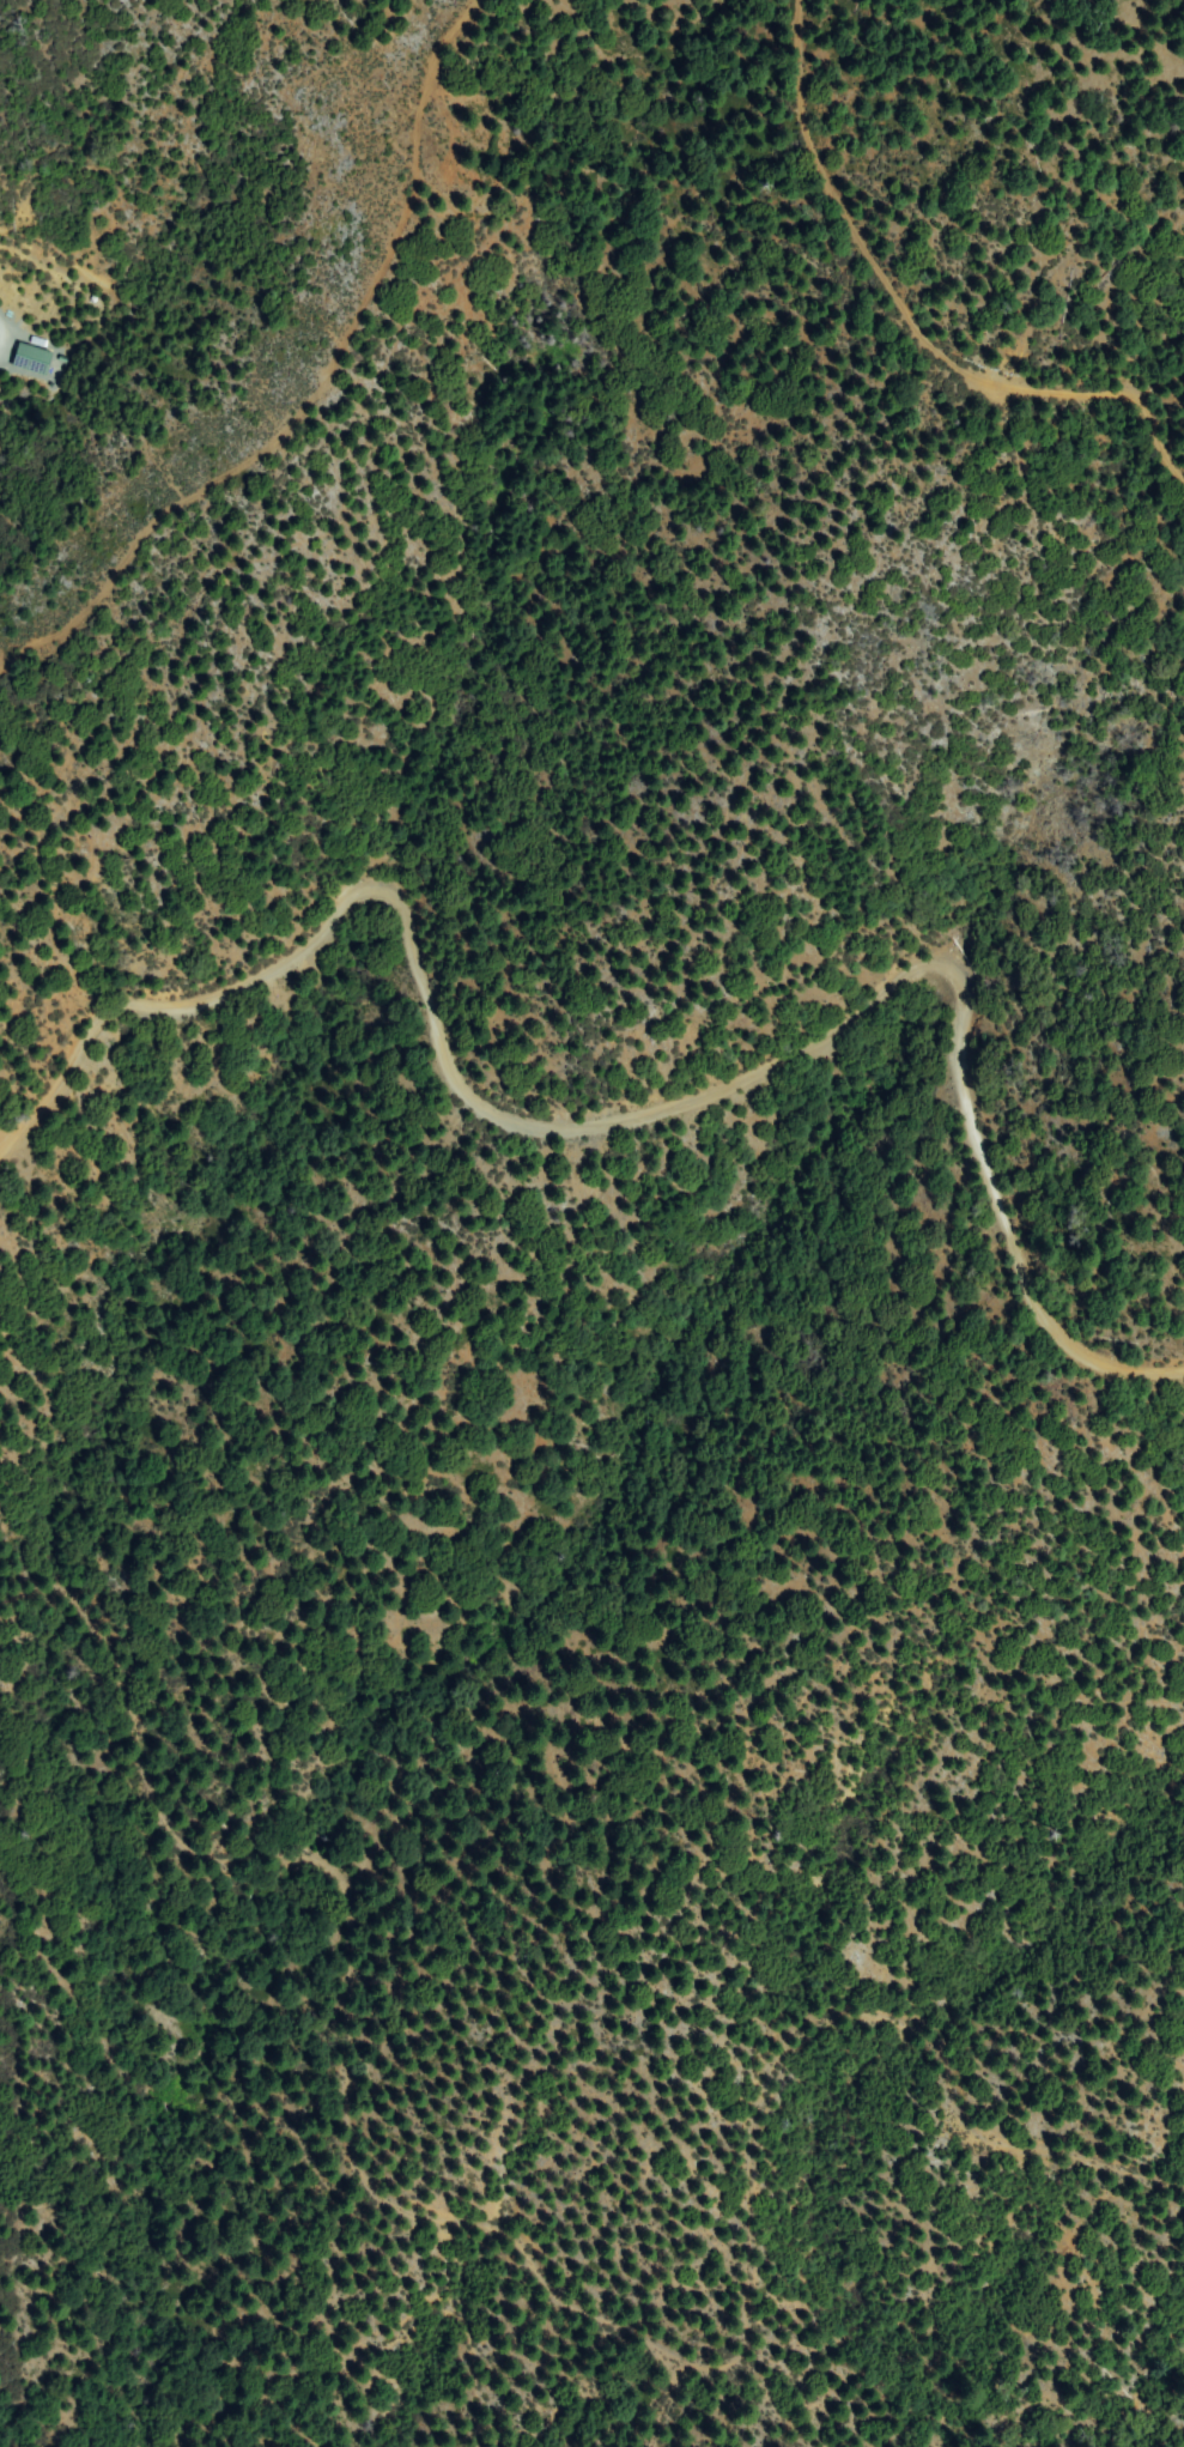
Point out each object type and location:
building: (31, 361)
road: (613, 1139)

